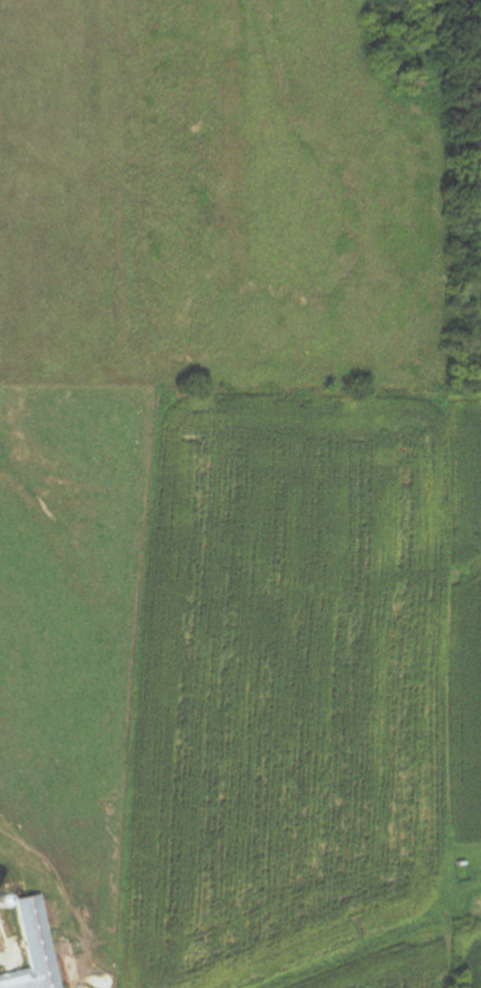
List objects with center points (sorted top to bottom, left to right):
building: (31, 948)

